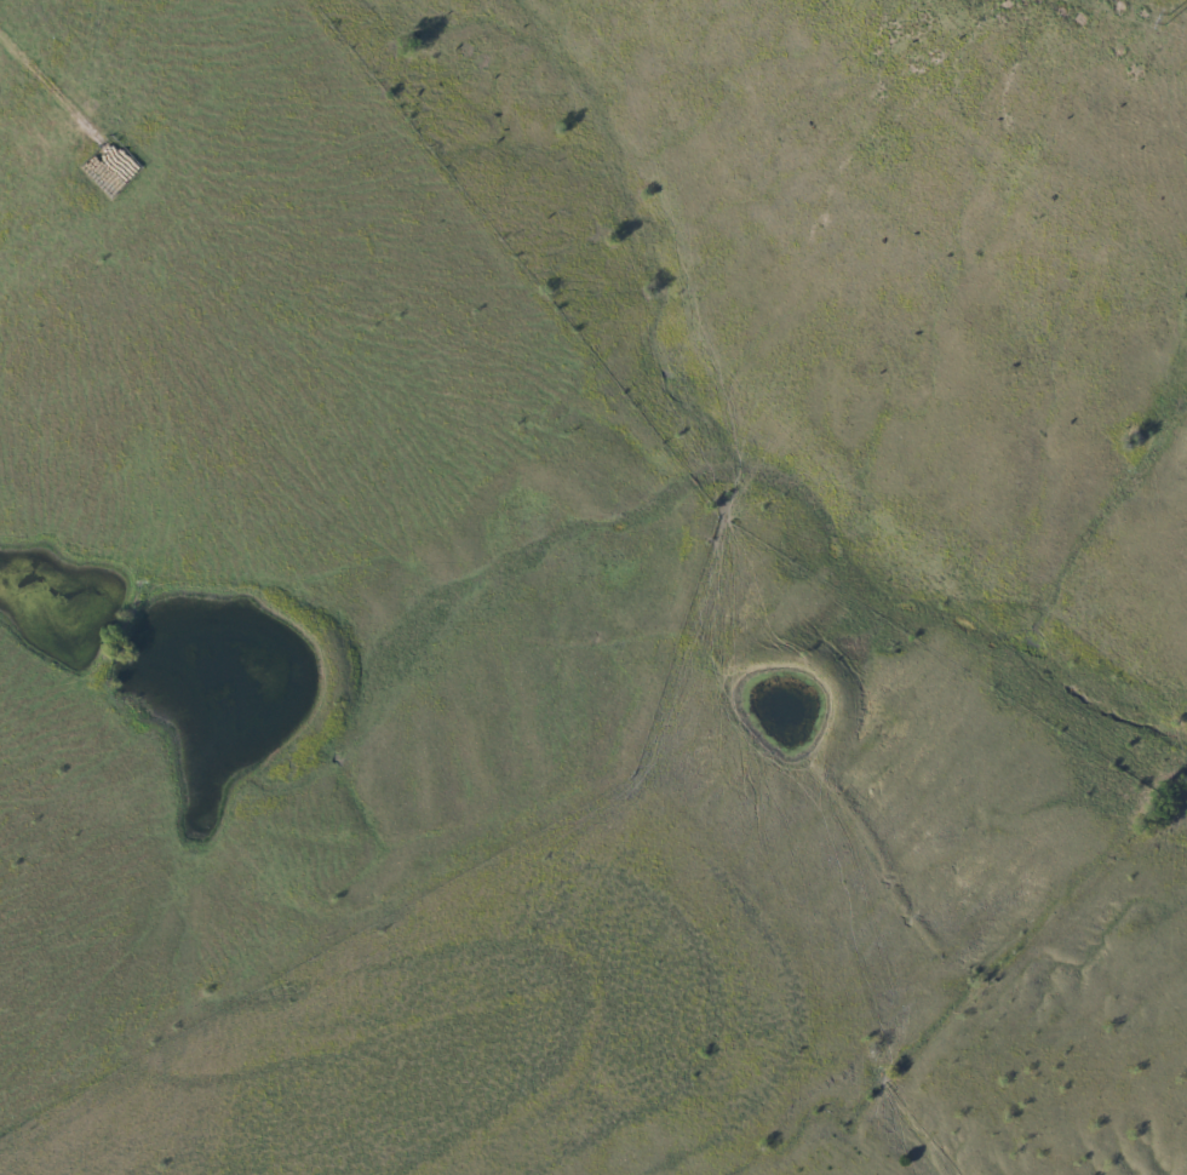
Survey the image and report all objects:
power tower: (1169, 17)
road: (56, 84)

